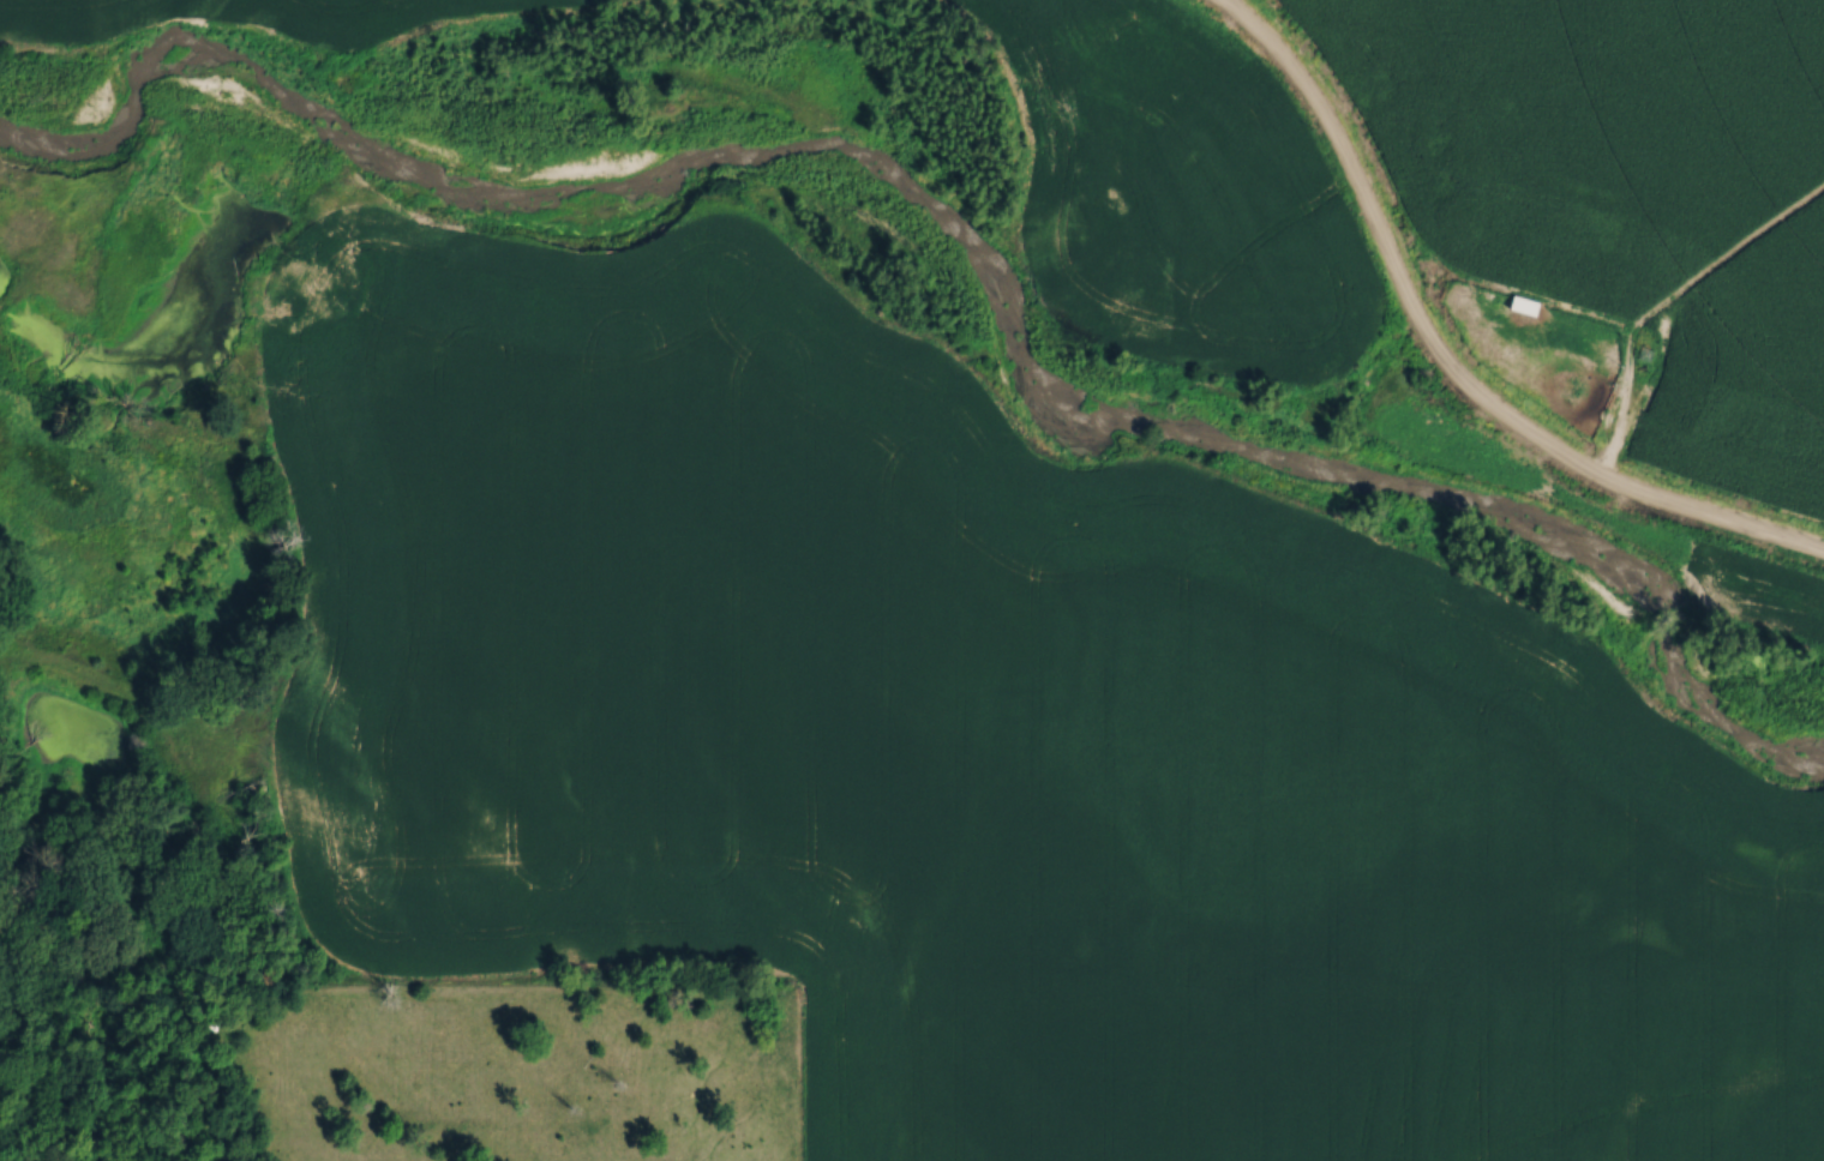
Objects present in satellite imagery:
building: (1583, 168)
building: (1632, 179)
building: (1678, 264)
building: (1579, 290)
building: (1468, 291)
road: (1445, 360)
road: (1633, 386)

